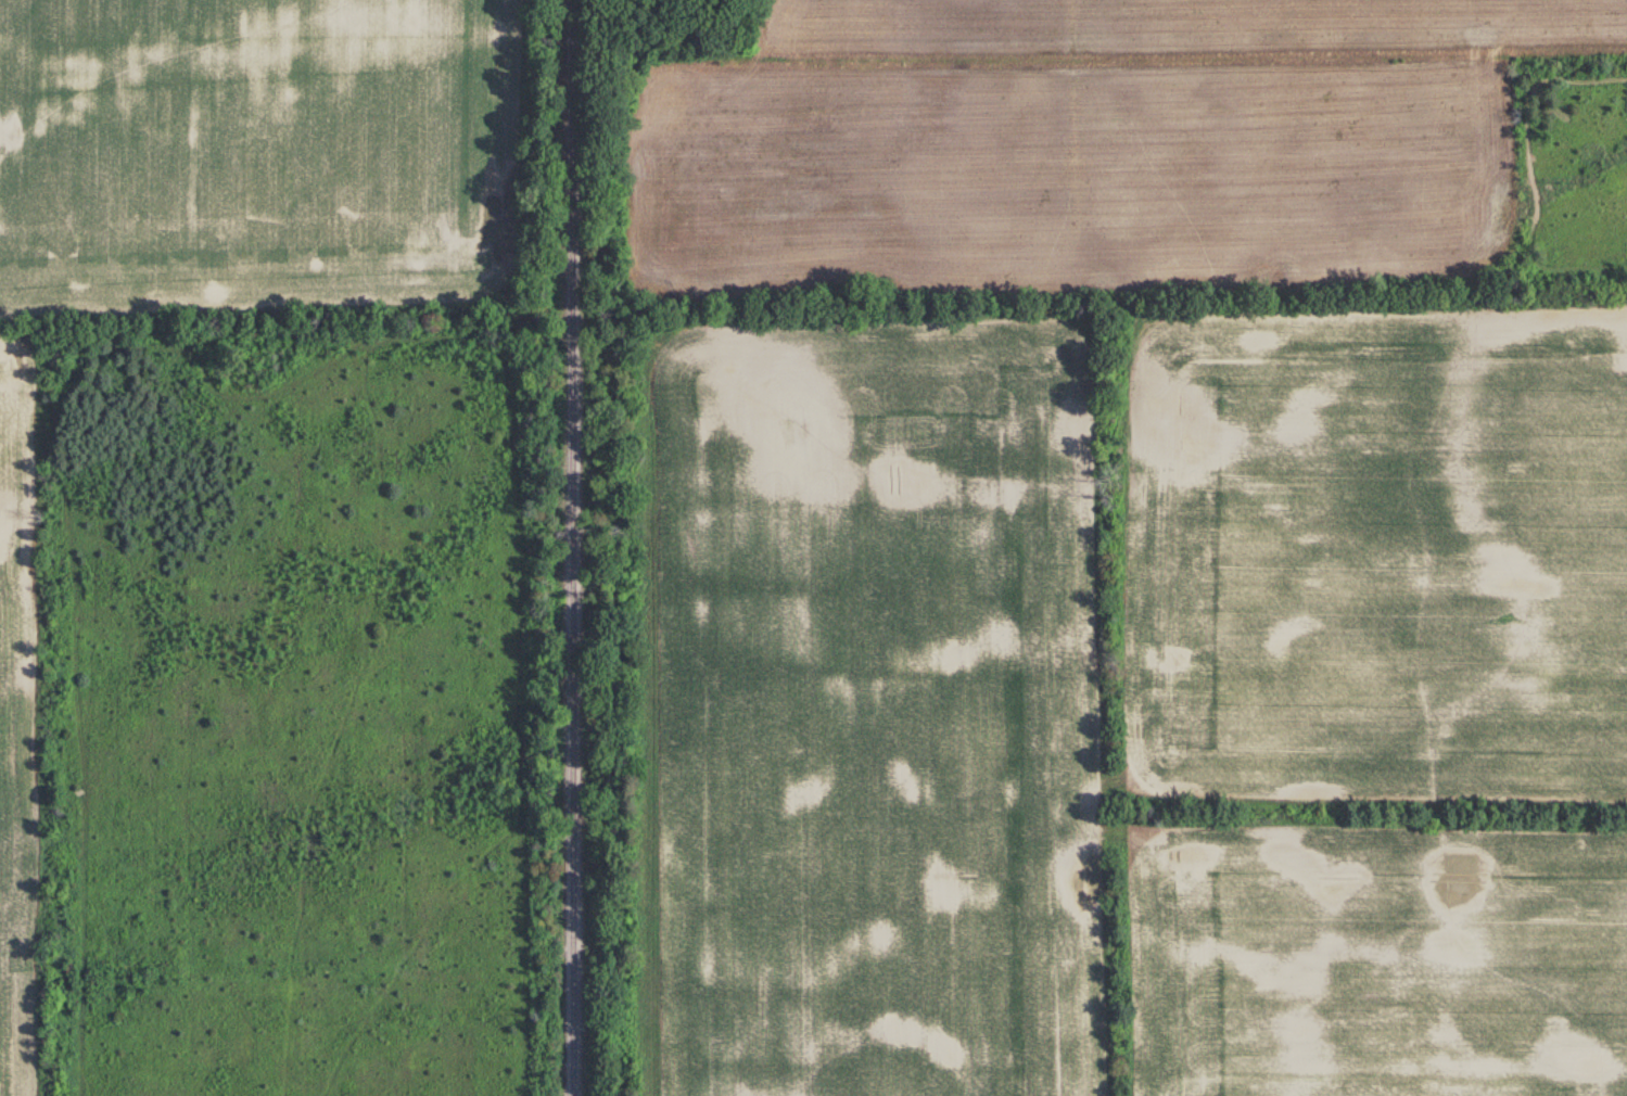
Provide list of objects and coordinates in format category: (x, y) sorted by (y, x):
railway: (572, 548)

